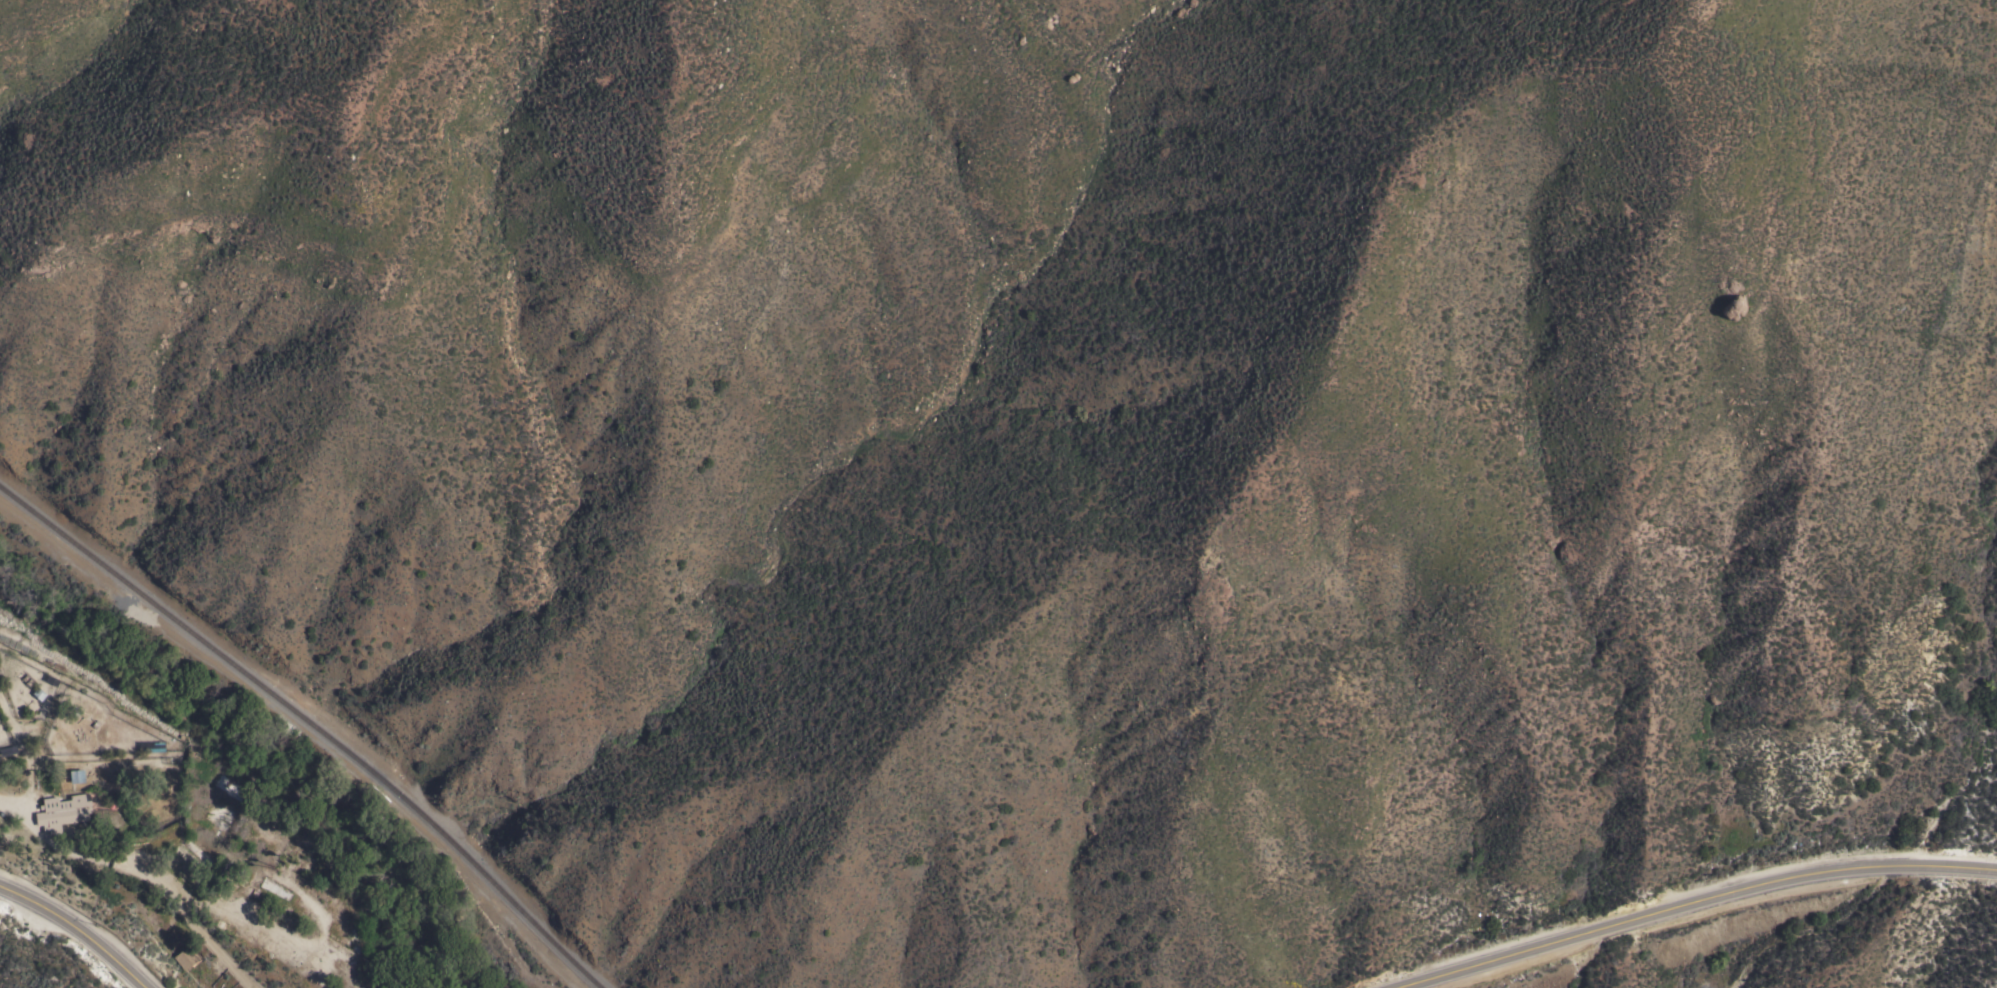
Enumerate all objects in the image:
railway: (236, 668)
building: (75, 774)
building: (232, 787)
building: (63, 812)
building: (189, 863)
building: (242, 876)
building: (275, 888)
road: (165, 889)
road: (1696, 901)
railway: (532, 921)
road: (75, 933)
building: (352, 938)
building: (336, 946)
building: (185, 956)
building: (355, 963)

